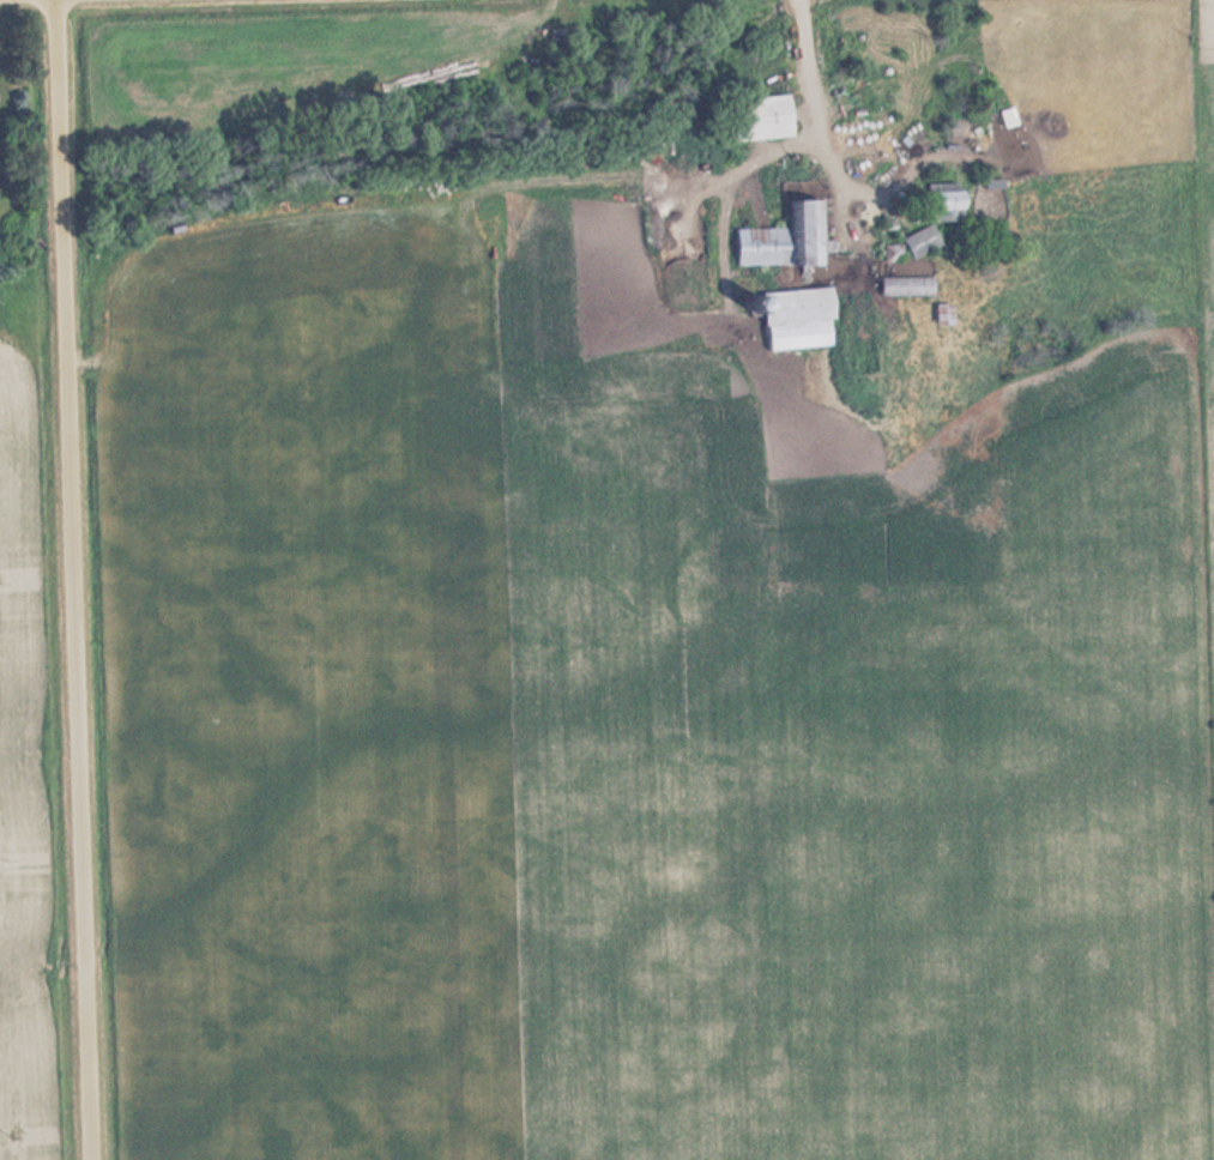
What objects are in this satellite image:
building: (761, 116)
building: (1008, 117)
building: (995, 183)
building: (947, 201)
building: (786, 238)
building: (923, 241)
building: (908, 285)
building: (796, 316)
road: (73, 580)

